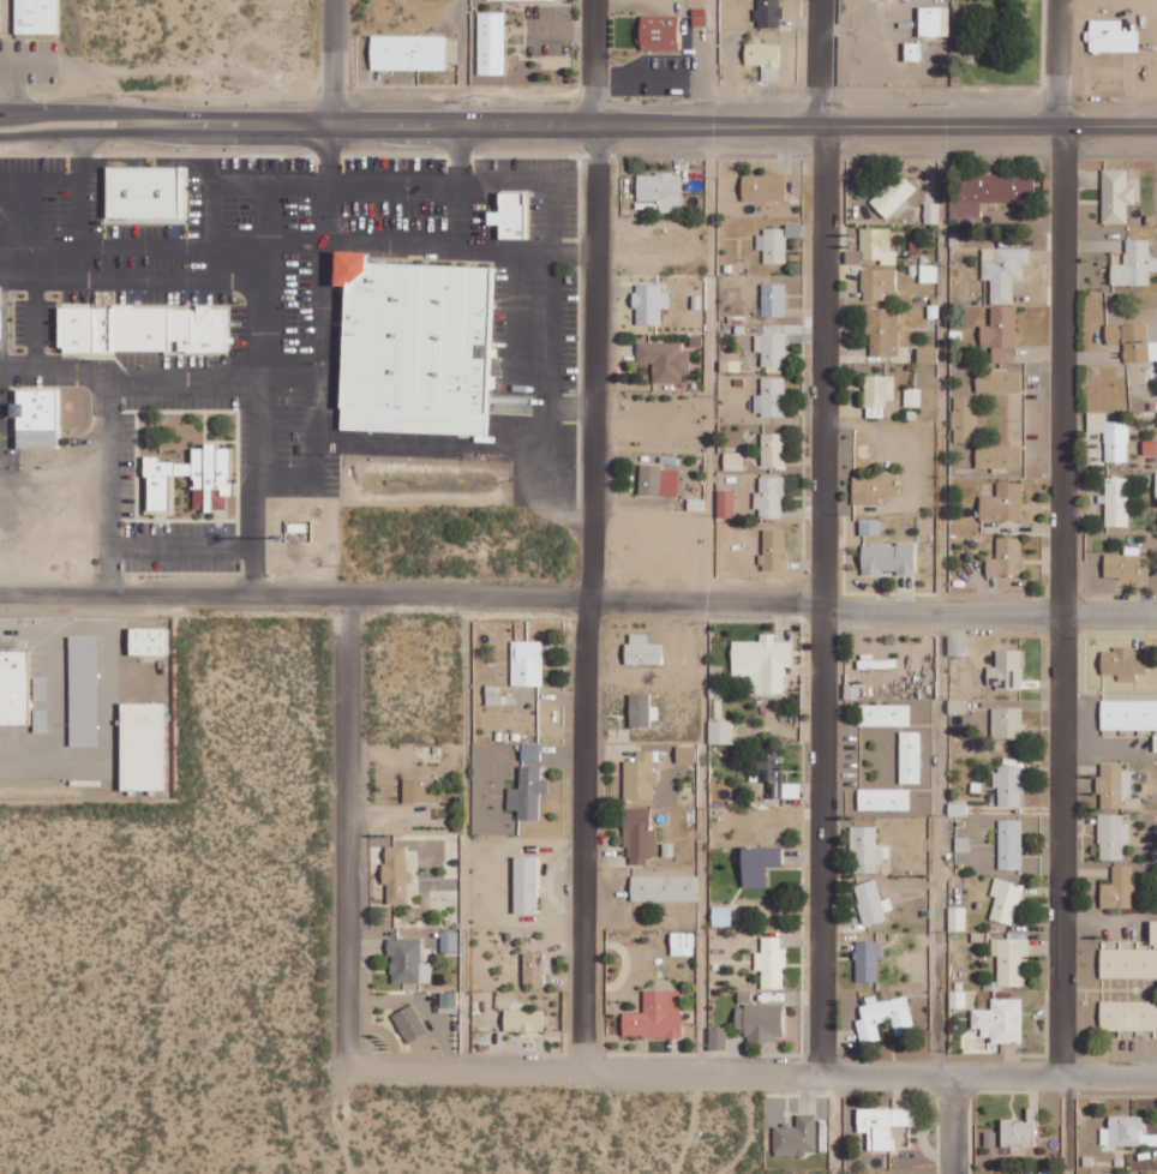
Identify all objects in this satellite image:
building: (541, 0)
building: (882, 1)
building: (1099, 10)
building: (768, 13)
building: (35, 17)
building: (934, 22)
building: (659, 32)
building: (1111, 37)
building: (490, 46)
building: (407, 53)
building: (762, 54)
road: (334, 60)
road: (1051, 64)
road: (578, 121)
building: (762, 186)
building: (1000, 187)
building: (660, 190)
building: (146, 193)
building: (893, 194)
building: (1115, 196)
building: (931, 212)
building: (509, 215)
building: (772, 245)
building: (876, 245)
building: (1134, 264)
building: (1003, 271)
building: (876, 283)
building: (773, 299)
building: (649, 303)
building: (0, 315)
building: (154, 327)
building: (882, 331)
building: (1001, 334)
building: (1132, 341)
building: (416, 346)
building: (771, 351)
building: (927, 354)
building: (664, 360)
building: (999, 381)
building: (879, 390)
building: (771, 397)
building: (1011, 415)
building: (35, 418)
building: (964, 419)
building: (1110, 436)
building: (773, 449)
building: (997, 456)
building: (733, 461)
building: (658, 480)
building: (1156, 485)
building: (871, 487)
building: (209, 495)
building: (769, 497)
building: (1116, 501)
building: (725, 503)
building: (1003, 503)
building: (869, 527)
road: (592, 533)
road: (703, 534)
road: (820, 537)
building: (773, 550)
building: (887, 558)
building: (1007, 558)
building: (1126, 565)
road: (409, 598)
road: (939, 601)
road: (1060, 603)
road: (988, 612)
building: (148, 640)
building: (958, 645)
building: (642, 649)
building: (762, 661)
building: (1123, 661)
building: (526, 663)
building: (869, 663)
building: (1006, 669)
building: (13, 687)
building: (83, 690)
building: (640, 708)
building: (1128, 713)
building: (883, 714)
building: (1006, 721)
building: (720, 731)
building: (1155, 742)
building: (142, 744)
building: (685, 754)
building: (910, 756)
building: (767, 766)
building: (640, 775)
building: (1113, 784)
building: (1008, 785)
building: (420, 789)
building: (527, 792)
building: (883, 798)
road: (463, 833)
road: (347, 834)
building: (639, 835)
building: (1111, 835)
building: (1009, 844)
building: (865, 849)
building: (759, 863)
building: (395, 873)
building: (524, 884)
building: (664, 887)
building: (1117, 887)
building: (1005, 900)
building: (871, 902)
building: (720, 915)
building: (957, 918)
building: (1153, 932)
building: (682, 942)
building: (1011, 959)
building: (407, 960)
building: (867, 960)
building: (771, 963)
building: (1128, 963)
building: (533, 966)
building: (957, 999)
building: (887, 1008)
building: (1128, 1014)
building: (654, 1016)
building: (523, 1020)
building: (759, 1020)
building: (1000, 1020)
building: (409, 1023)
building: (717, 1037)
road: (753, 1071)
road: (838, 1124)
road: (953, 1125)
road: (1065, 1125)
building: (1123, 1130)
building: (1017, 1132)
building: (796, 1136)
building: (881, 1137)
building: (989, 1138)
building: (1133, 1173)

